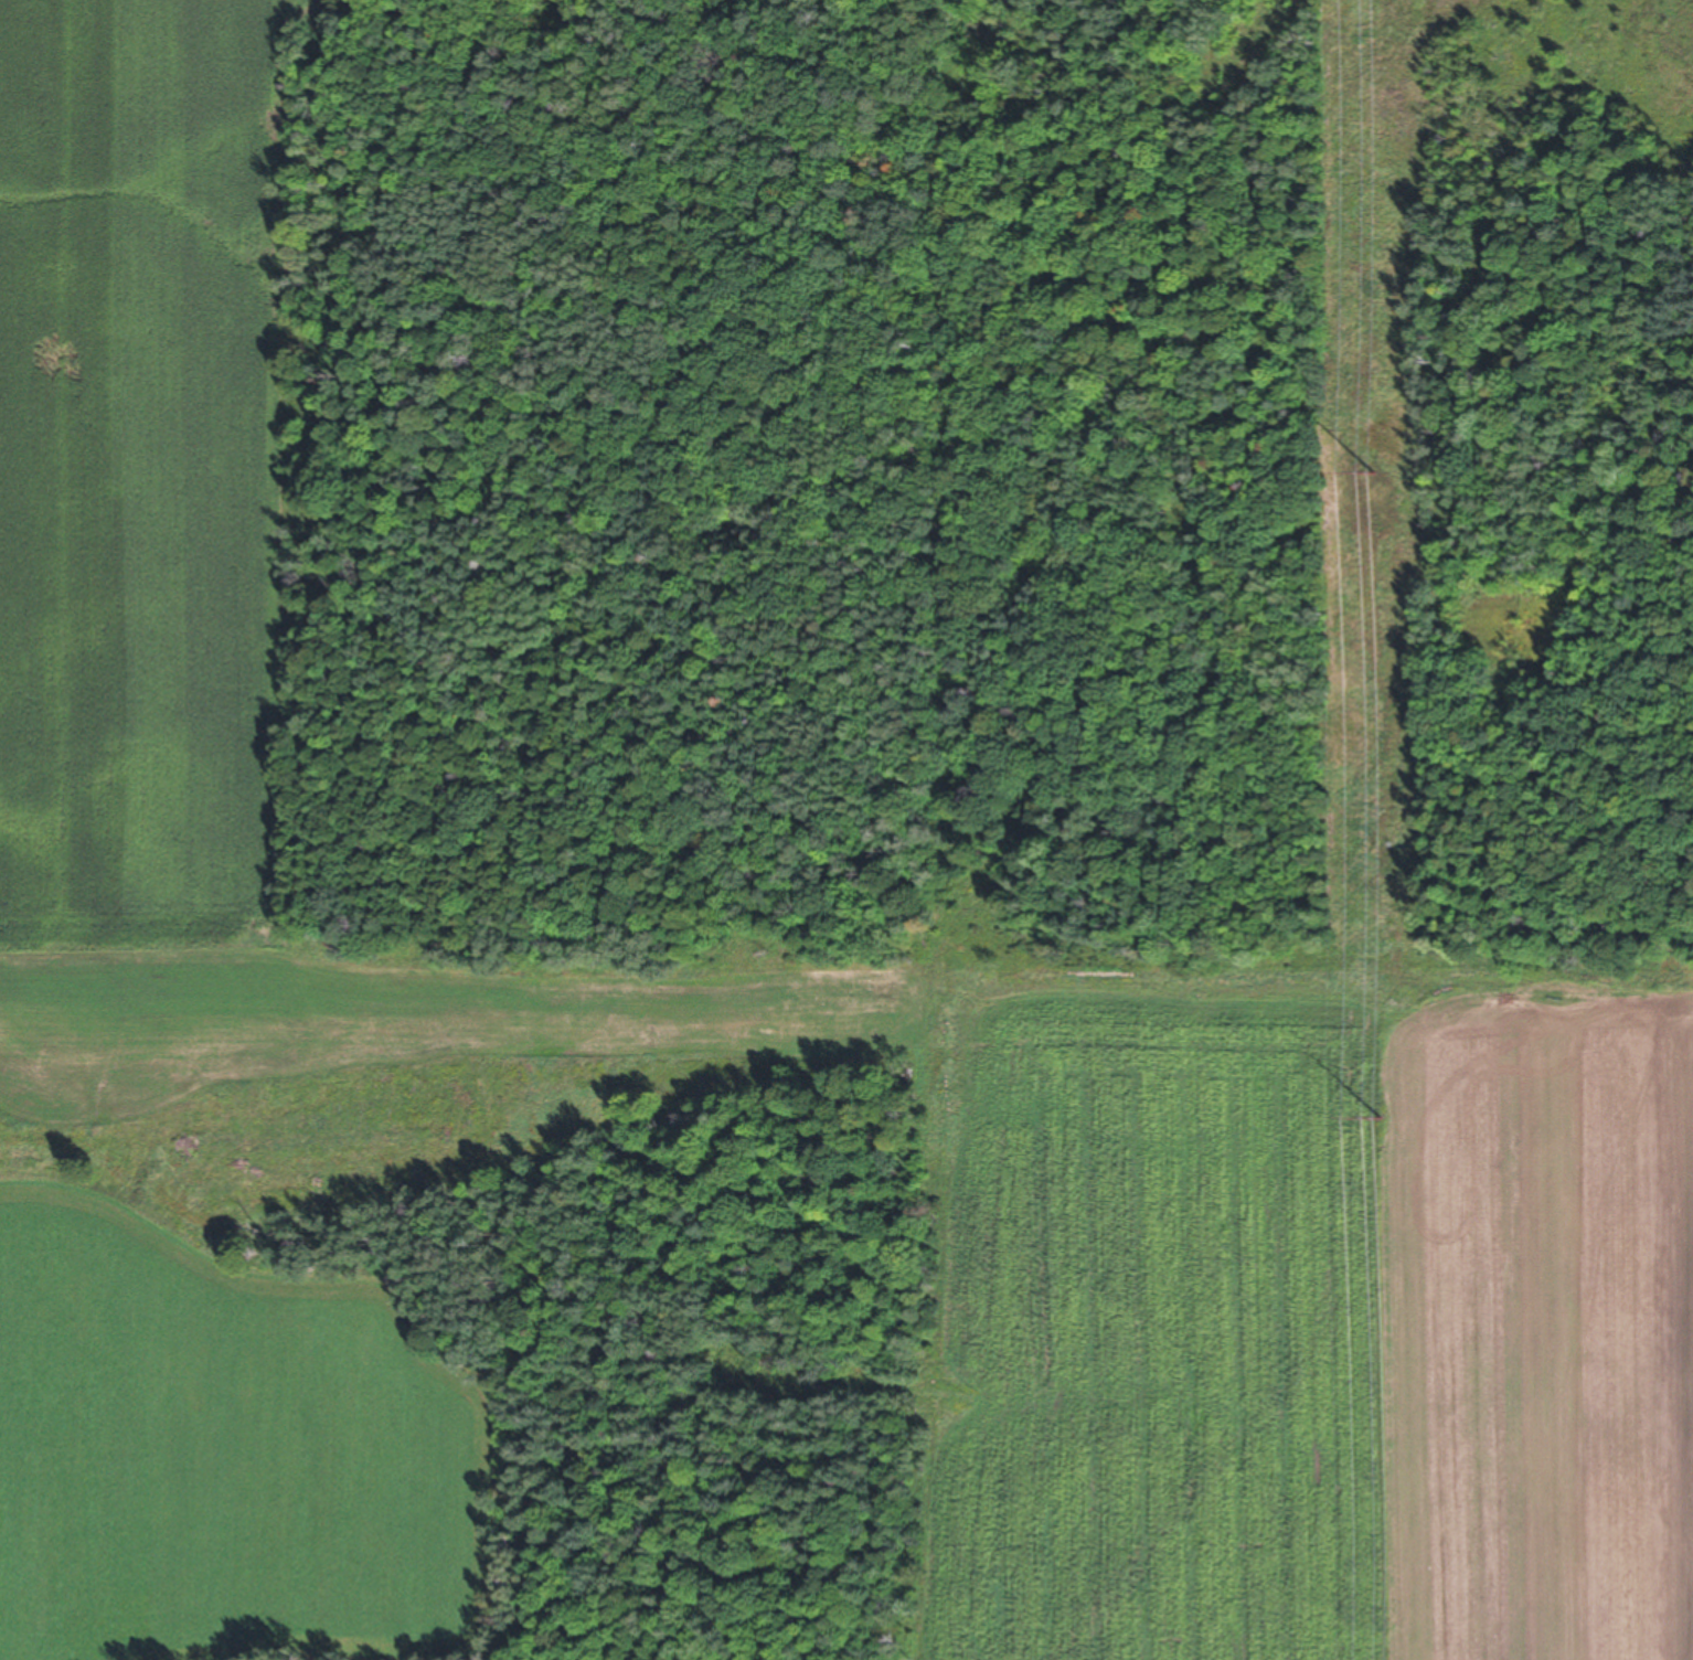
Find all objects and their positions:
power tower: (1372, 478)
power tower: (1380, 1117)

